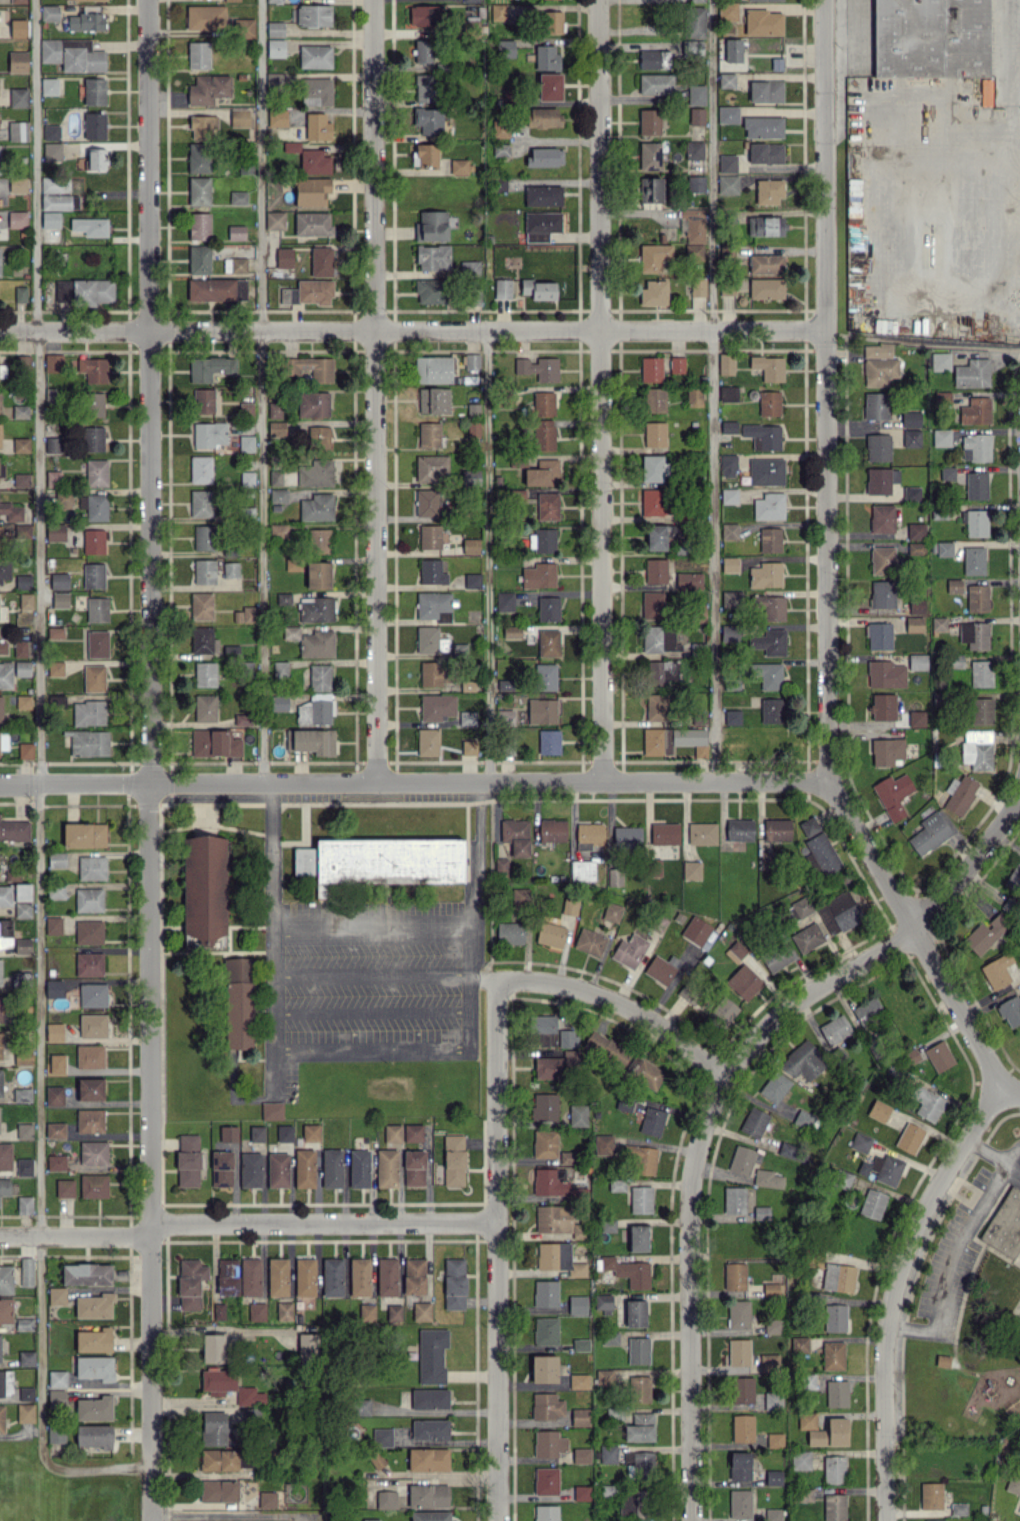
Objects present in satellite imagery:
road: (412, 329)
road: (373, 390)
road: (599, 390)
road: (713, 390)
road: (262, 391)
road: (487, 555)
road: (826, 565)
road: (150, 760)
road: (413, 781)
road: (38, 783)
road: (373, 923)
road: (470, 973)
road: (274, 977)
road: (372, 978)
road: (620, 1000)
road: (371, 1015)
road: (371, 1050)
road: (1010, 1088)
road: (719, 1089)
road: (986, 1150)
road: (1013, 1166)
road: (322, 1220)
building: (1004, 1223)
road: (74, 1235)
road: (496, 1248)
road: (954, 1255)
road: (1016, 1256)
parking lot: (956, 1258)
road: (893, 1289)
park: (966, 1301)
road: (1019, 1313)
road: (955, 1350)
building: (942, 1358)
road: (952, 1360)
road: (231, 1514)

